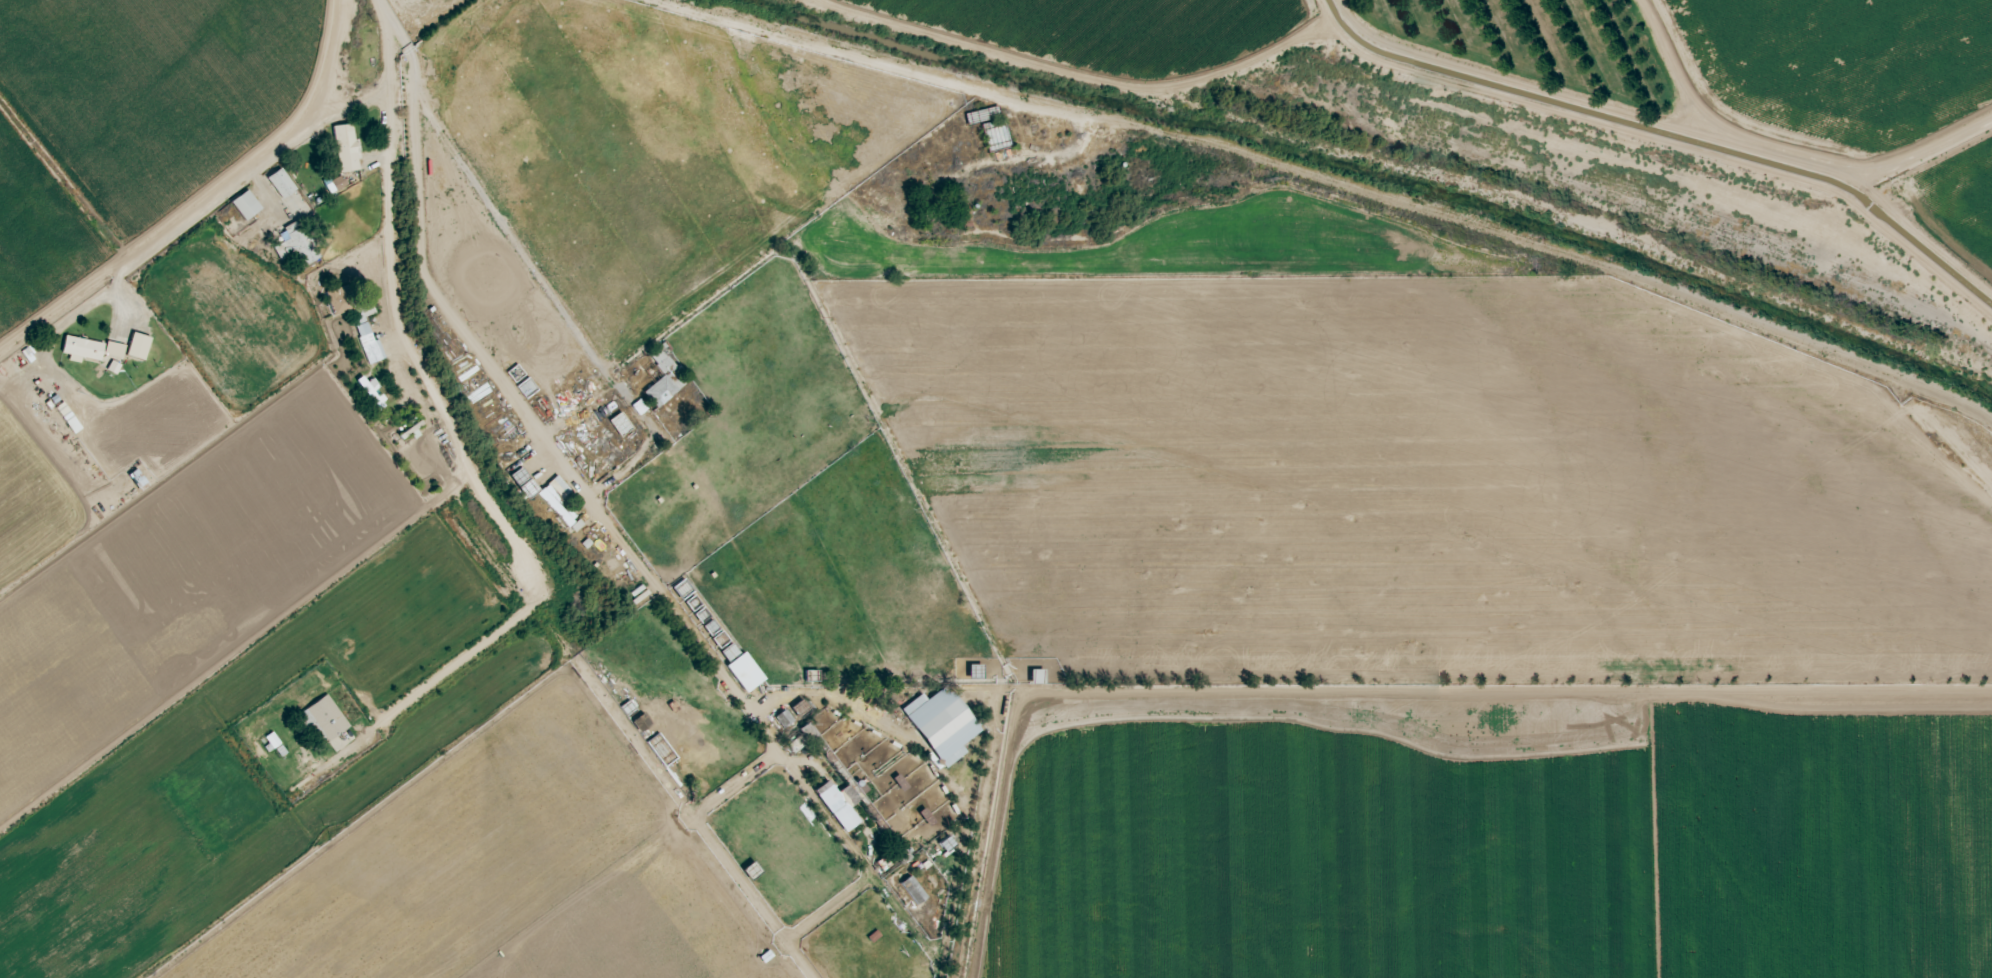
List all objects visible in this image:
road: (854, 59)
building: (344, 148)
road: (262, 161)
building: (280, 184)
building: (334, 185)
building: (244, 206)
road: (415, 225)
road: (510, 233)
building: (295, 244)
building: (338, 301)
building: (366, 336)
building: (137, 347)
building: (81, 349)
building: (658, 360)
building: (659, 391)
building: (369, 392)
building: (638, 408)
building: (70, 422)
building: (619, 424)
building: (518, 477)
building: (557, 502)
building: (743, 673)
road: (840, 695)
building: (782, 720)
building: (322, 721)
building: (640, 724)
building: (940, 725)
building: (267, 743)
building: (837, 805)
building: (912, 891)

